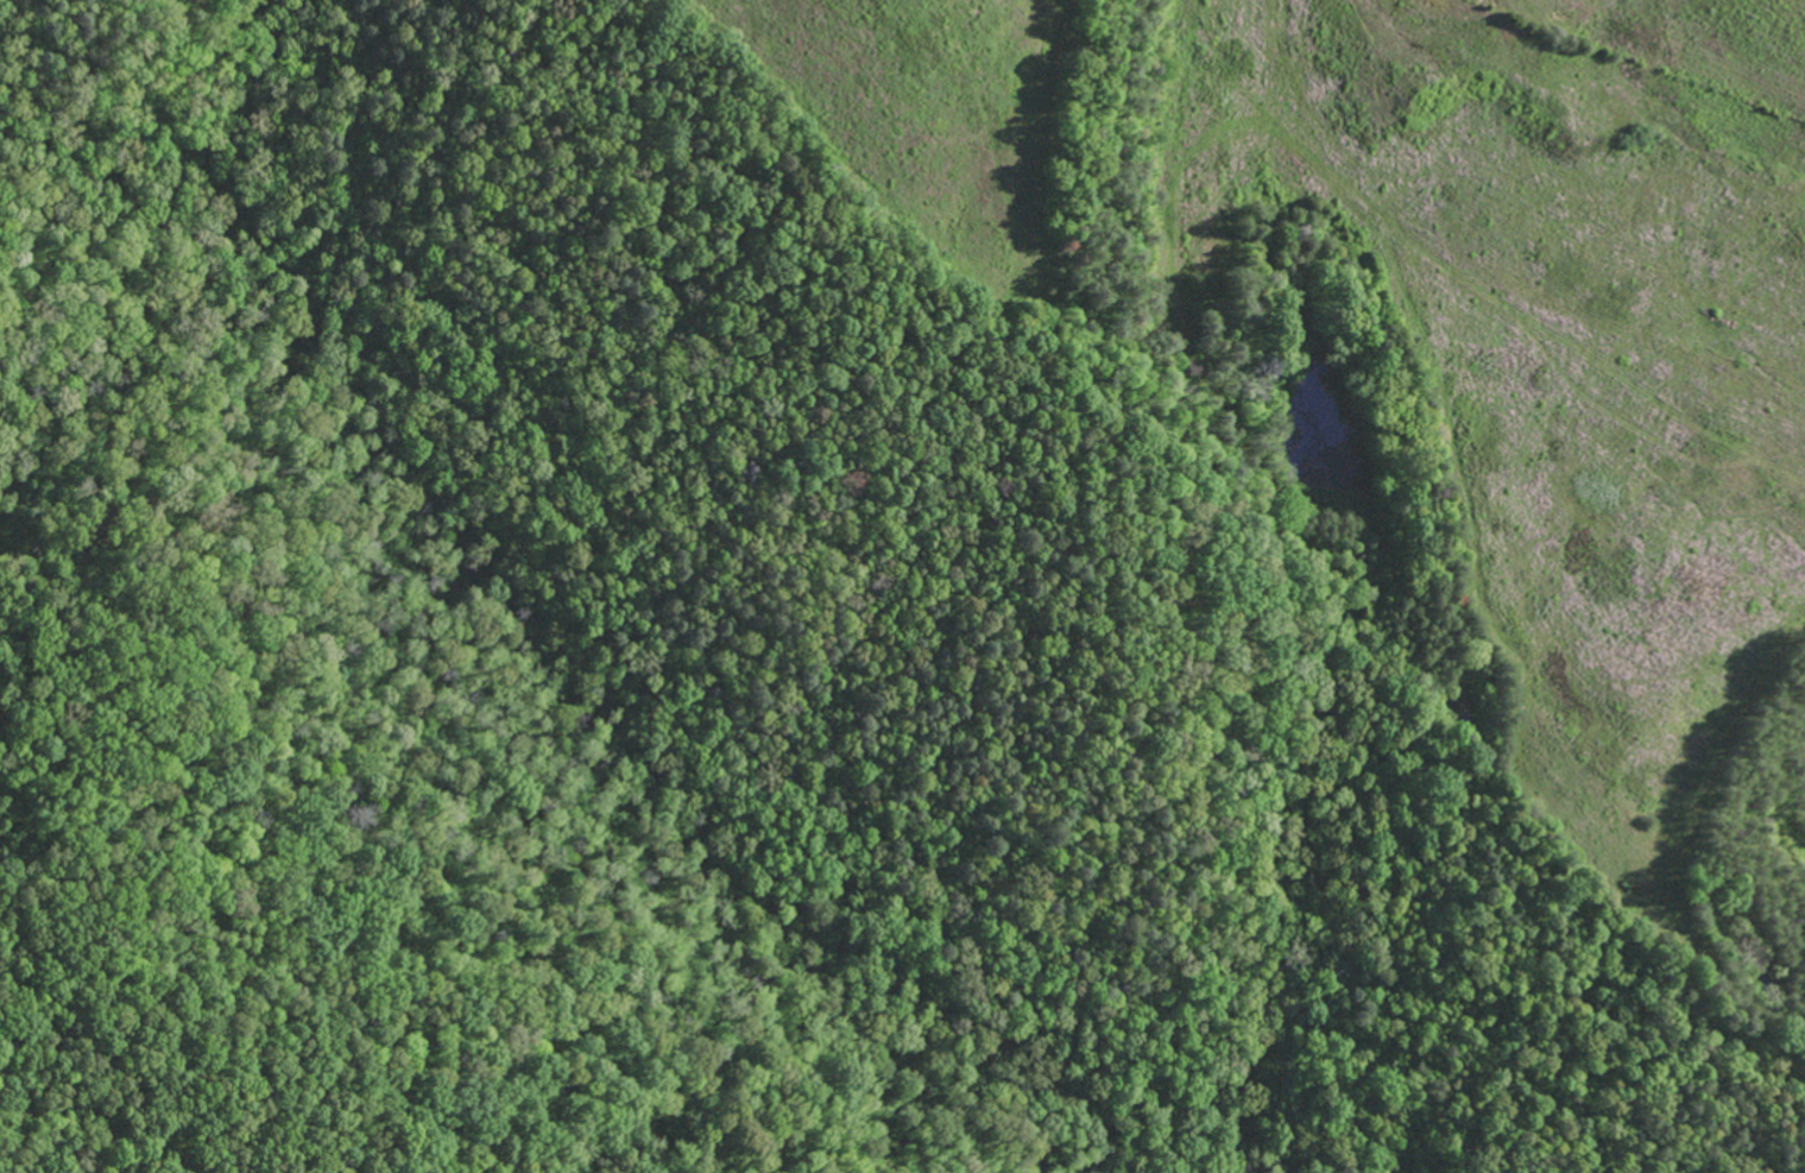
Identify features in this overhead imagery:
road: (645, 1003)
road: (84, 1139)

